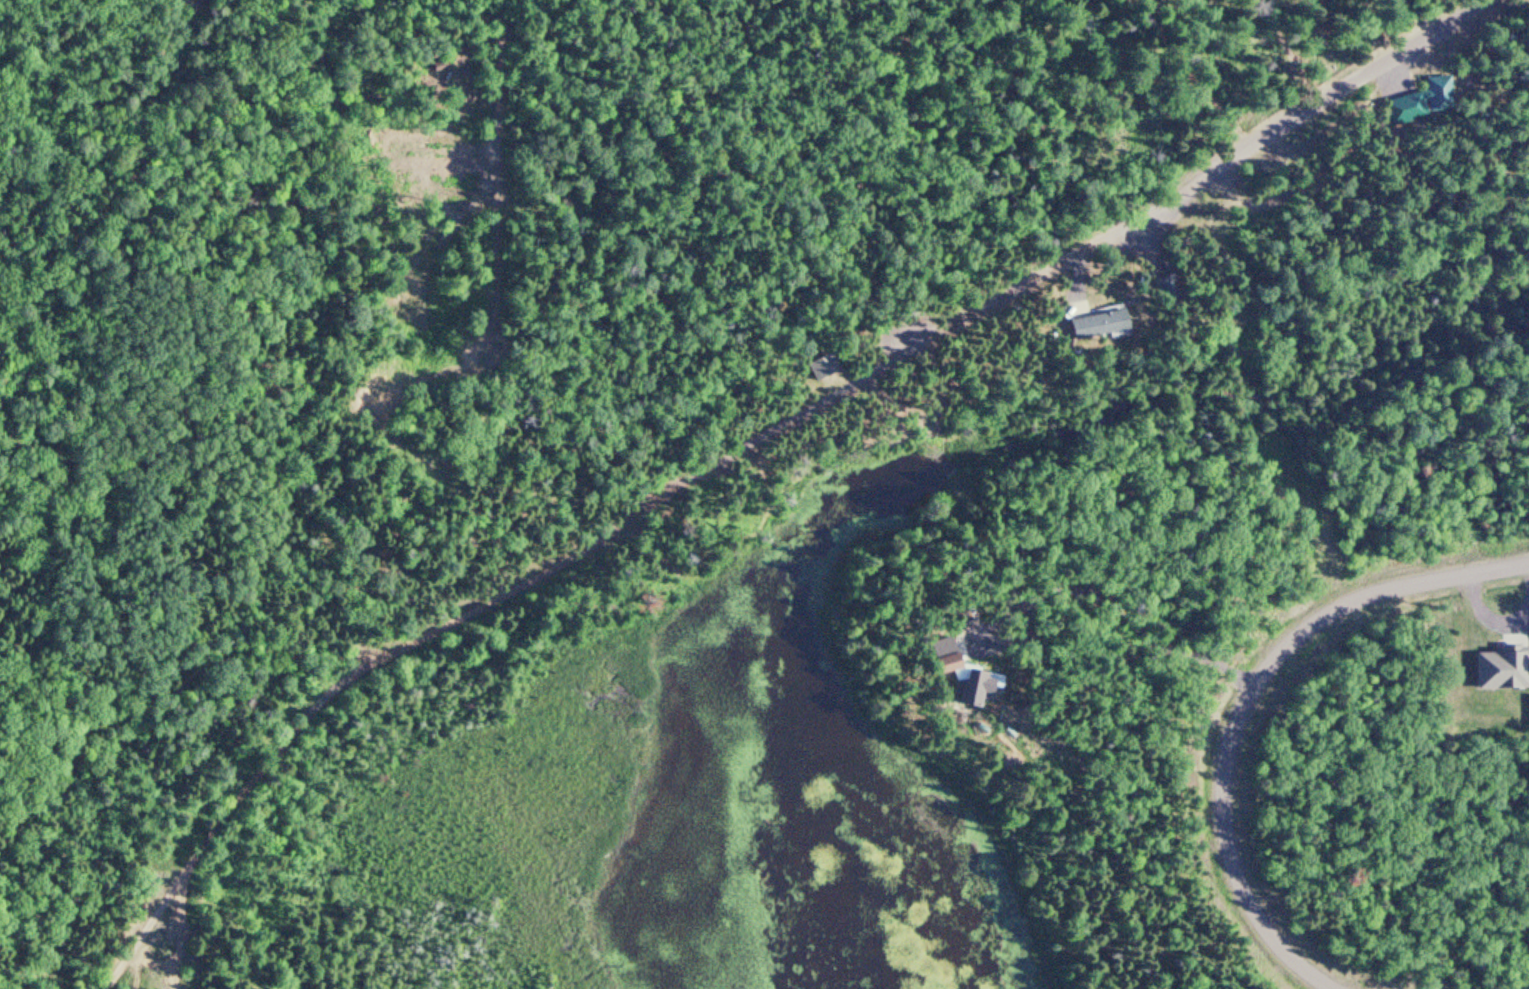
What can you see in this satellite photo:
road: (1297, 47)
park: (1181, 69)
road: (1205, 71)
building: (1435, 95)
building: (1092, 325)
road: (944, 330)
road: (167, 650)
building: (1503, 671)
road: (1245, 704)
road: (240, 804)
road: (181, 931)

